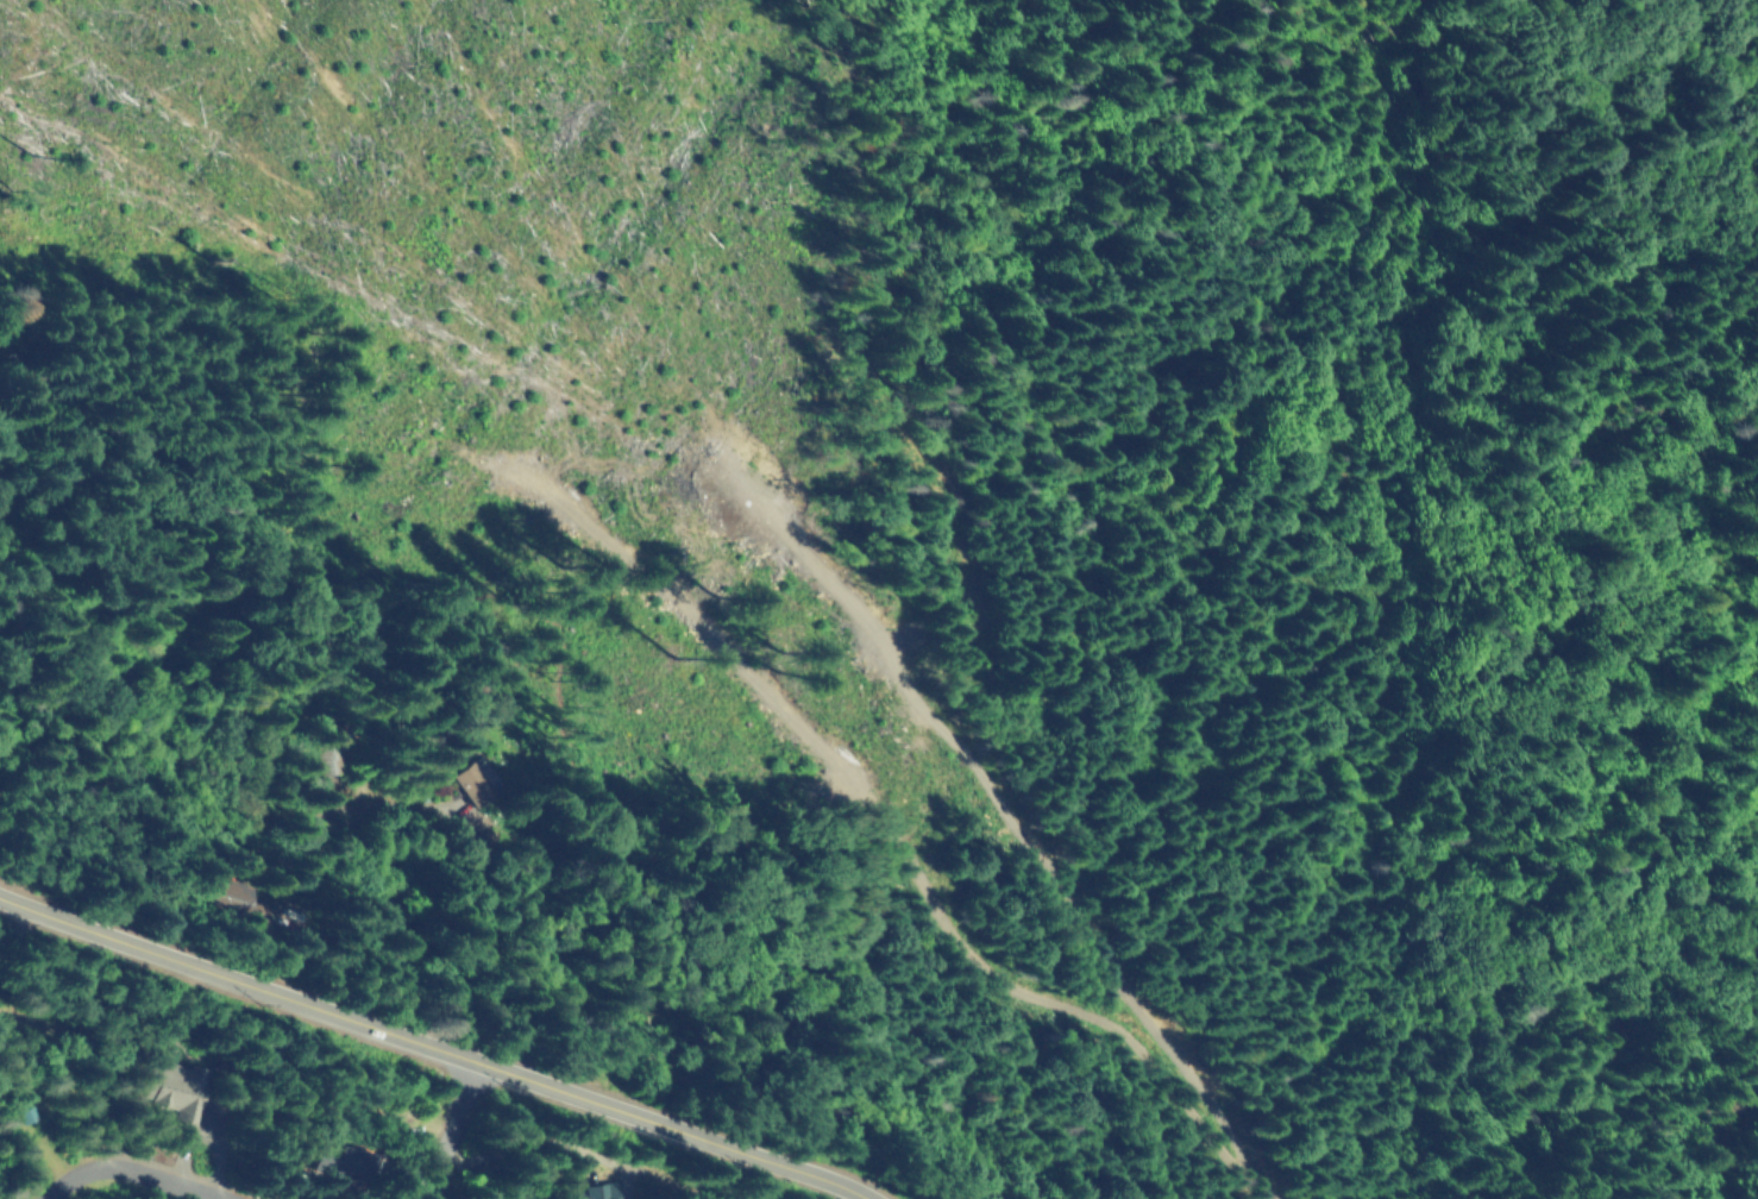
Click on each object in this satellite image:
building: (500, 783)
building: (270, 911)
road: (438, 1044)
building: (24, 1115)
road: (459, 1130)
building: (347, 1162)
road: (132, 1170)
building: (589, 1191)

